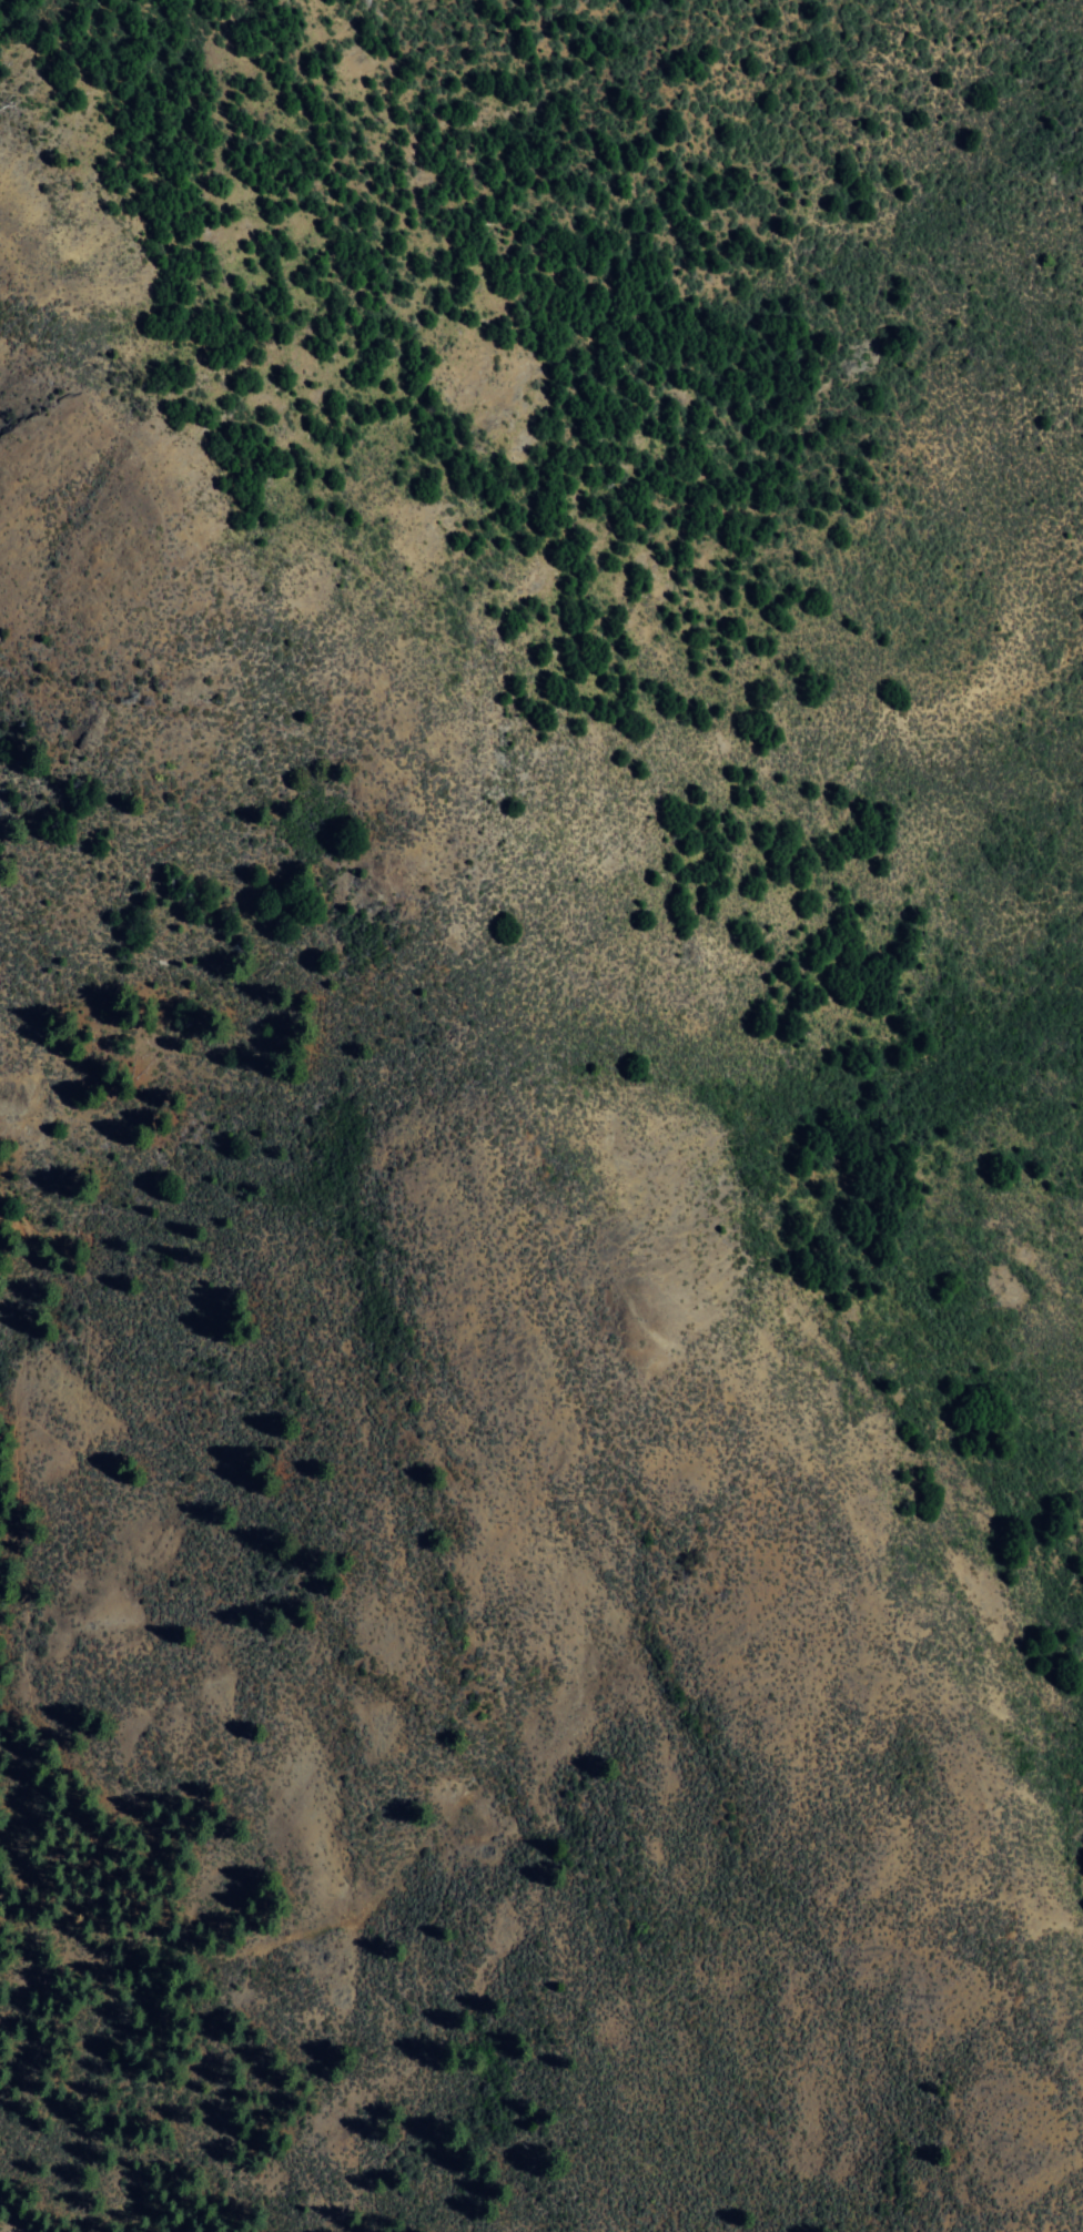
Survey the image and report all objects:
crop: (854, 1858)

